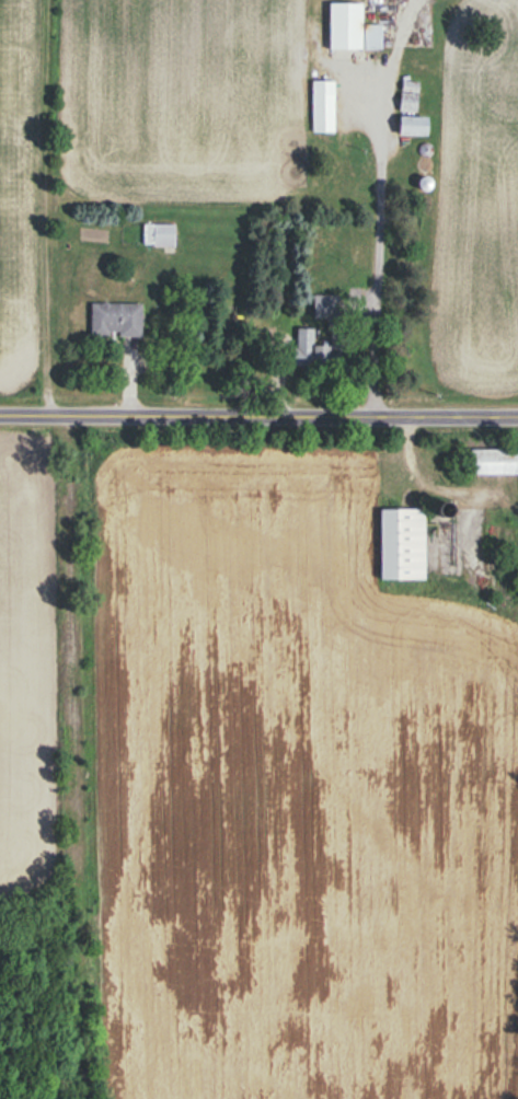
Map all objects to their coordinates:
building: (353, 28)
building: (323, 106)
building: (414, 126)
building: (160, 234)
road: (378, 254)
building: (359, 262)
building: (116, 320)
building: (306, 336)
road: (258, 410)
building: (494, 462)
building: (407, 541)

